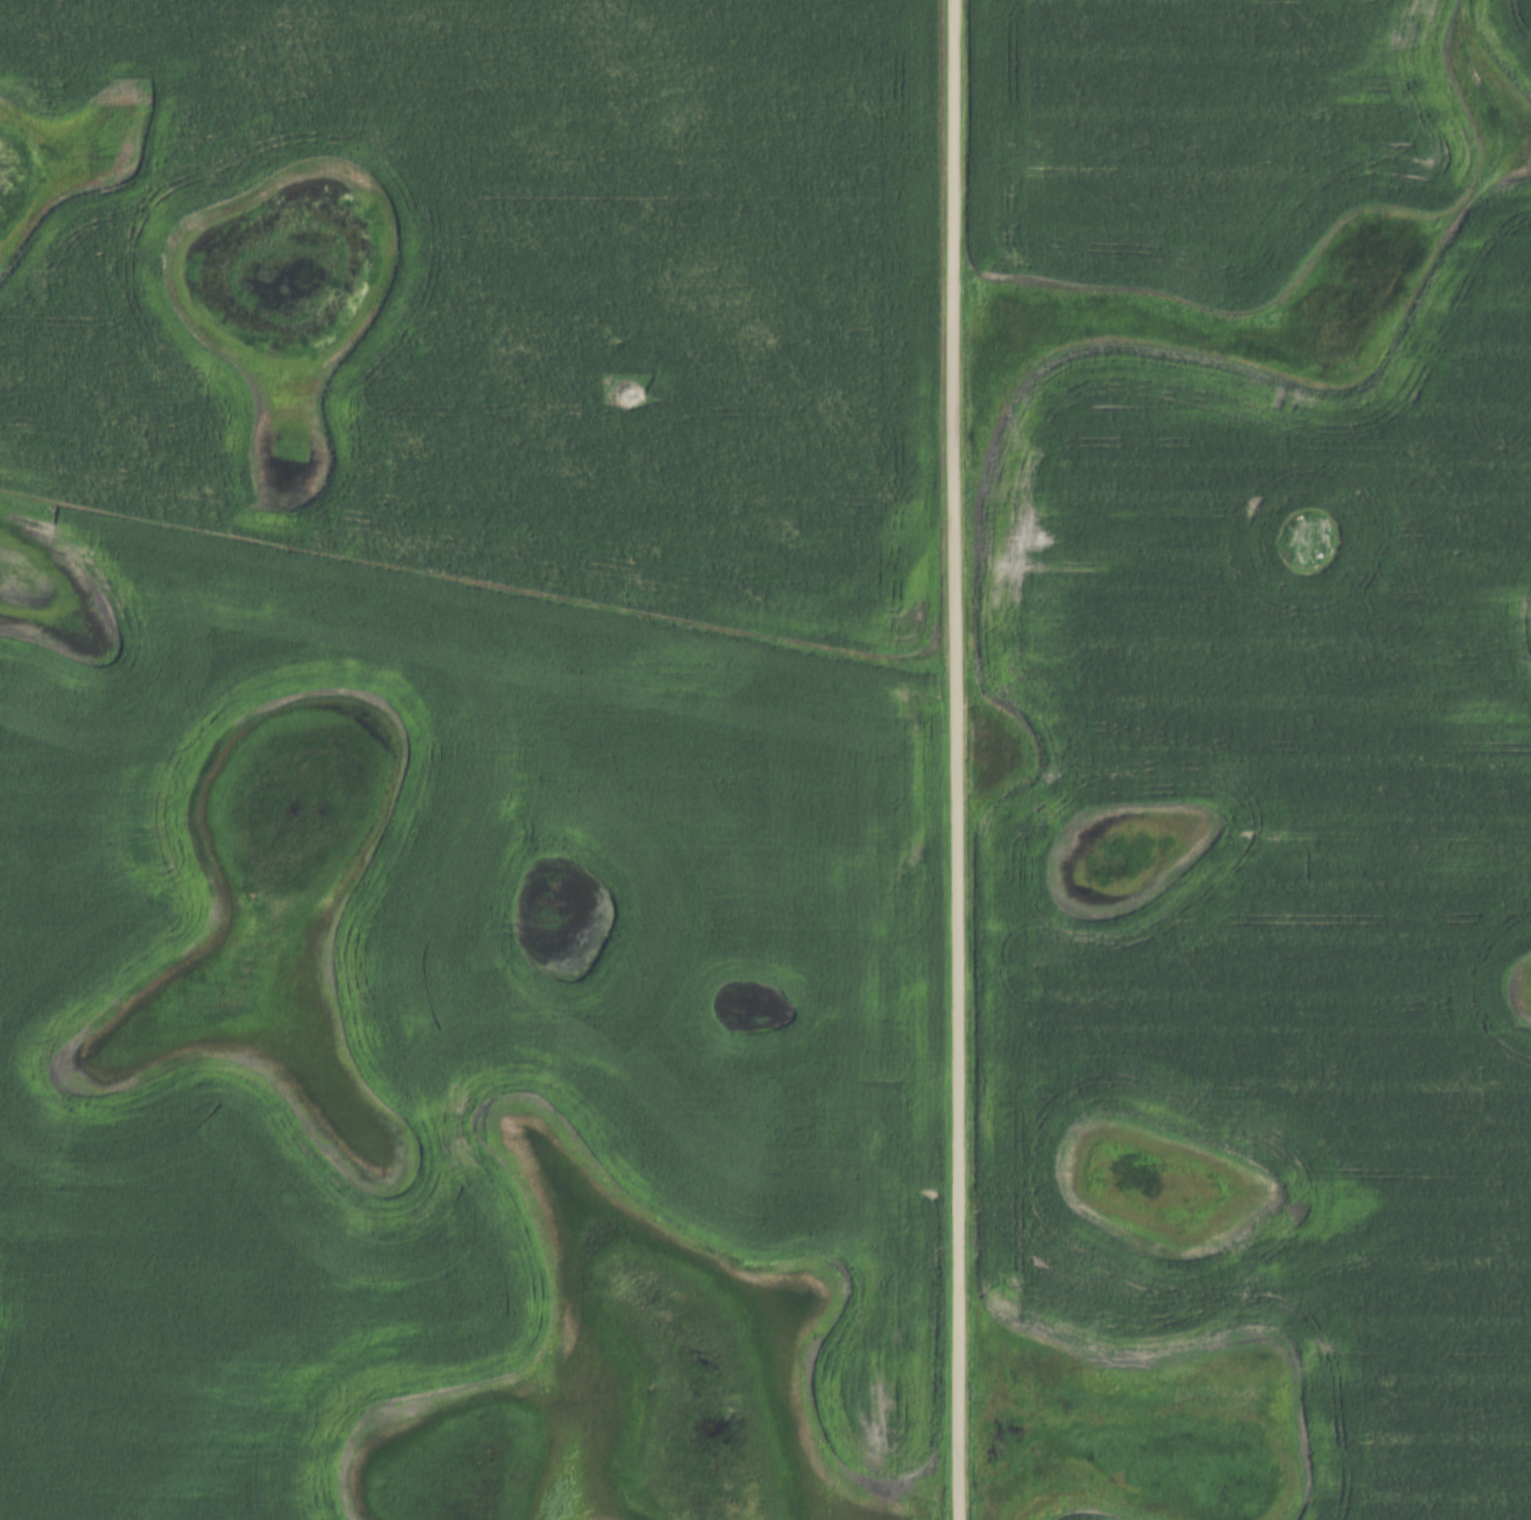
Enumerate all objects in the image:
road: (961, 760)

